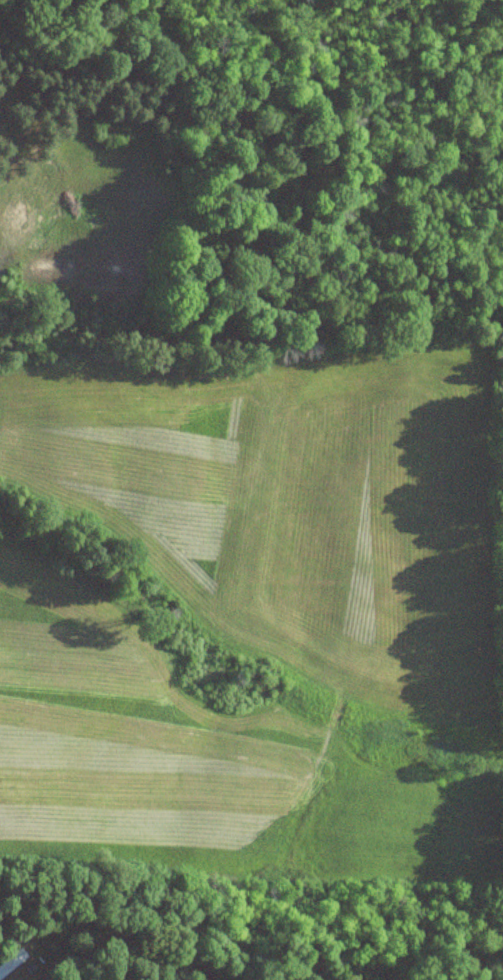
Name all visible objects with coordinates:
building: (10, 961)

